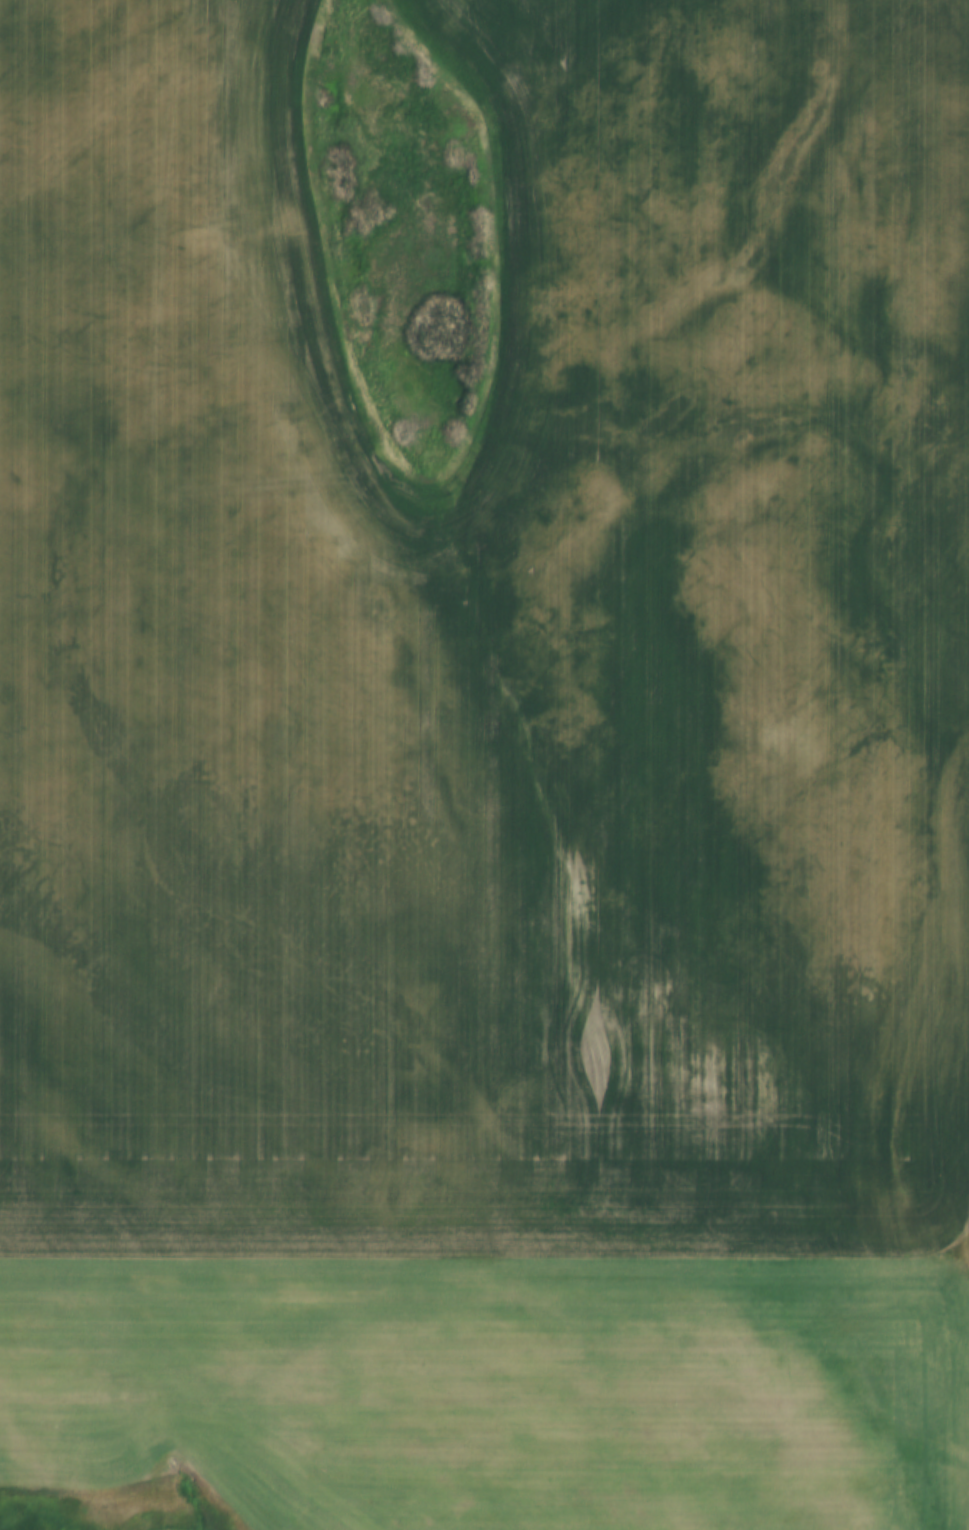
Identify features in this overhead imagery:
road: (963, 1516)

